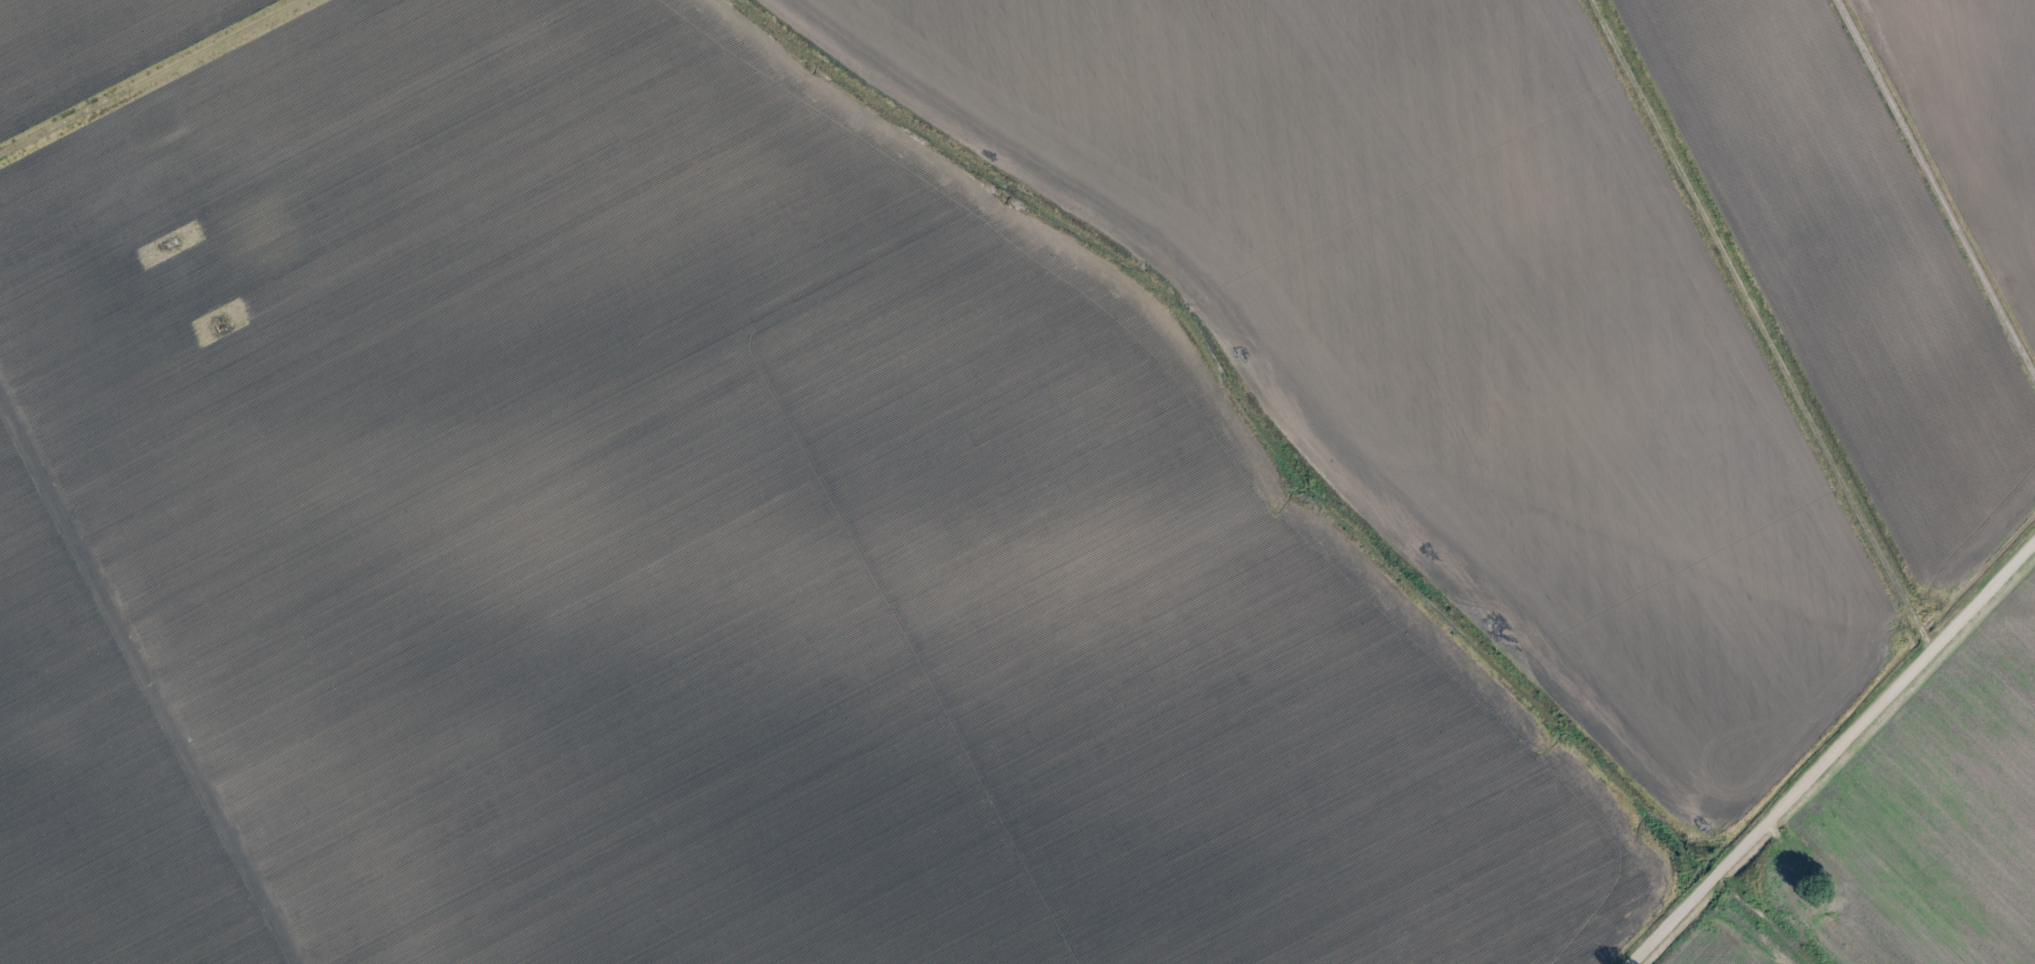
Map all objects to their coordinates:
road: (1825, 743)

